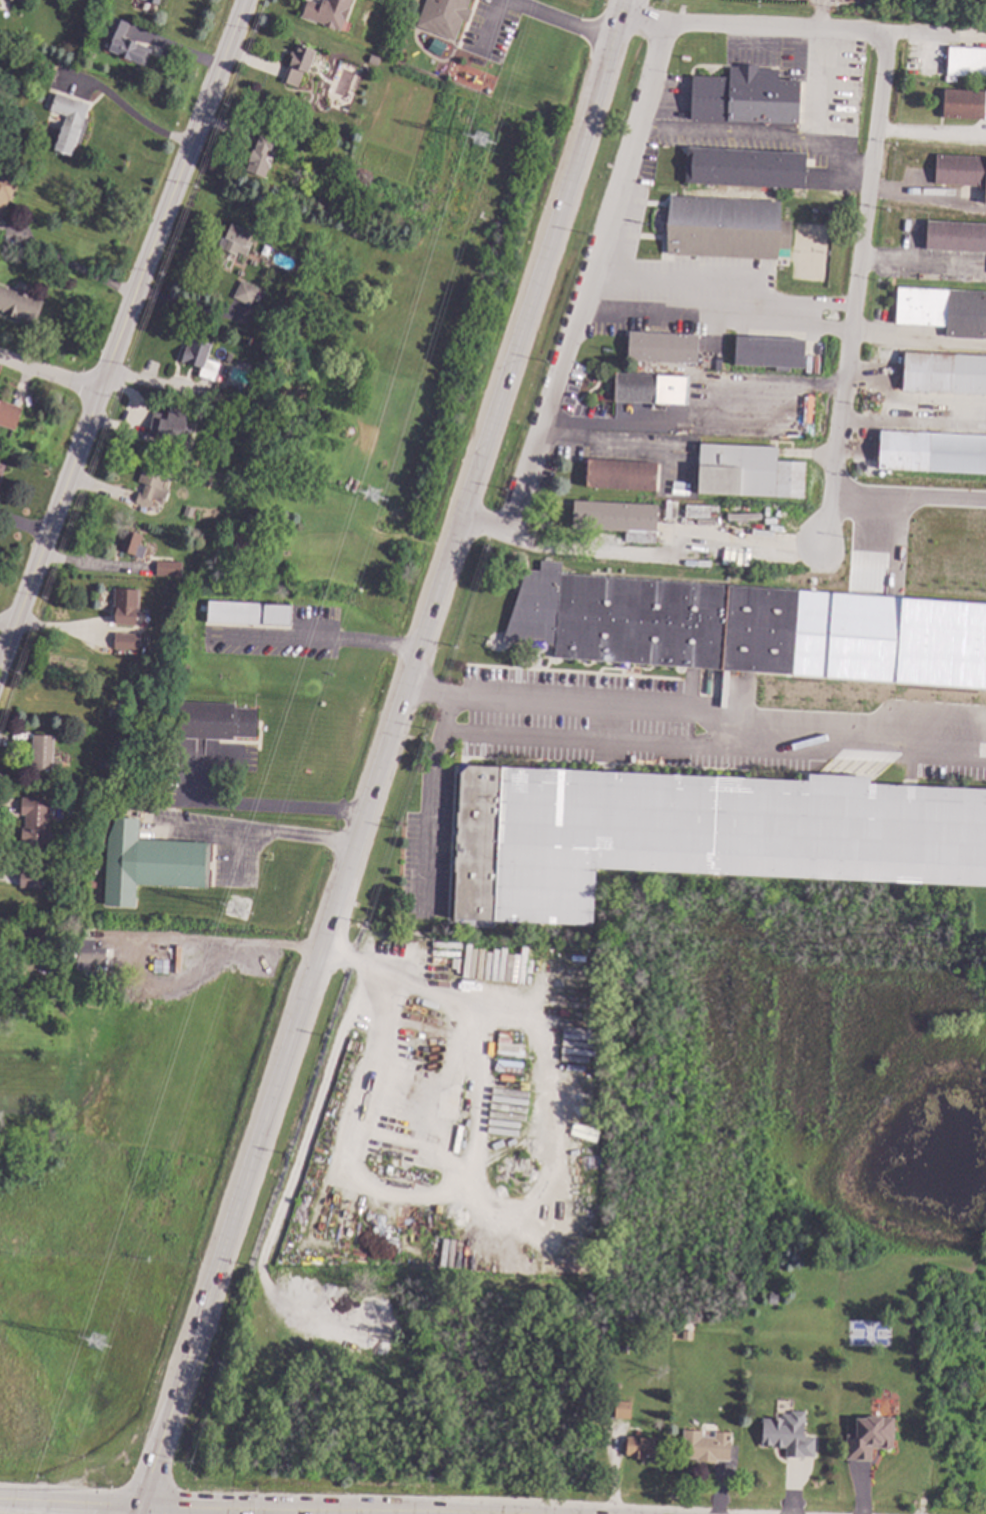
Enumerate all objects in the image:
building: (152, 1)
building: (324, 11)
road: (532, 13)
building: (441, 16)
building: (100, 21)
road: (749, 27)
road: (921, 33)
building: (123, 42)
building: (371, 58)
building: (965, 61)
building: (296, 65)
building: (909, 68)
building: (744, 96)
building: (963, 103)
road: (126, 112)
building: (66, 121)
road: (927, 135)
road: (748, 136)
power tower: (481, 142)
building: (258, 156)
building: (744, 167)
building: (960, 170)
building: (5, 189)
building: (725, 227)
building: (954, 236)
building: (234, 239)
building: (2, 241)
building: (250, 253)
road: (69, 266)
road: (690, 280)
road: (849, 290)
building: (244, 292)
road: (576, 295)
road: (188, 304)
building: (18, 305)
road: (790, 308)
building: (943, 310)
road: (682, 311)
road: (122, 330)
road: (914, 340)
building: (661, 346)
building: (767, 351)
building: (200, 359)
building: (943, 373)
road: (49, 376)
building: (649, 388)
building: (8, 414)
road: (693, 418)
building: (167, 423)
building: (931, 451)
building: (0, 471)
building: (747, 471)
building: (620, 473)
building: (150, 484)
road: (905, 490)
power tower: (374, 497)
building: (185, 511)
building: (669, 511)
building: (615, 518)
building: (242, 542)
building: (130, 543)
road: (661, 551)
building: (167, 568)
building: (124, 605)
building: (247, 613)
building: (689, 638)
road: (322, 639)
building: (125, 640)
building: (945, 700)
road: (709, 713)
building: (213, 720)
road: (588, 743)
building: (42, 753)
road: (383, 753)
building: (100, 762)
road: (428, 806)
road: (265, 807)
building: (33, 820)
road: (192, 834)
building: (696, 834)
road: (269, 835)
building: (147, 862)
building: (28, 879)
building: (88, 883)
power tower: (239, 911)
building: (13, 940)
road: (227, 943)
building: (87, 953)
building: (158, 965)
road: (490, 1205)
building: (771, 1297)
power tower: (98, 1344)
building: (620, 1409)
building: (785, 1434)
building: (867, 1437)
building: (703, 1445)
building: (637, 1446)
road: (69, 1502)
road: (332, 1508)
road: (136, 1509)
road: (364, 1511)
road: (480, 1513)

